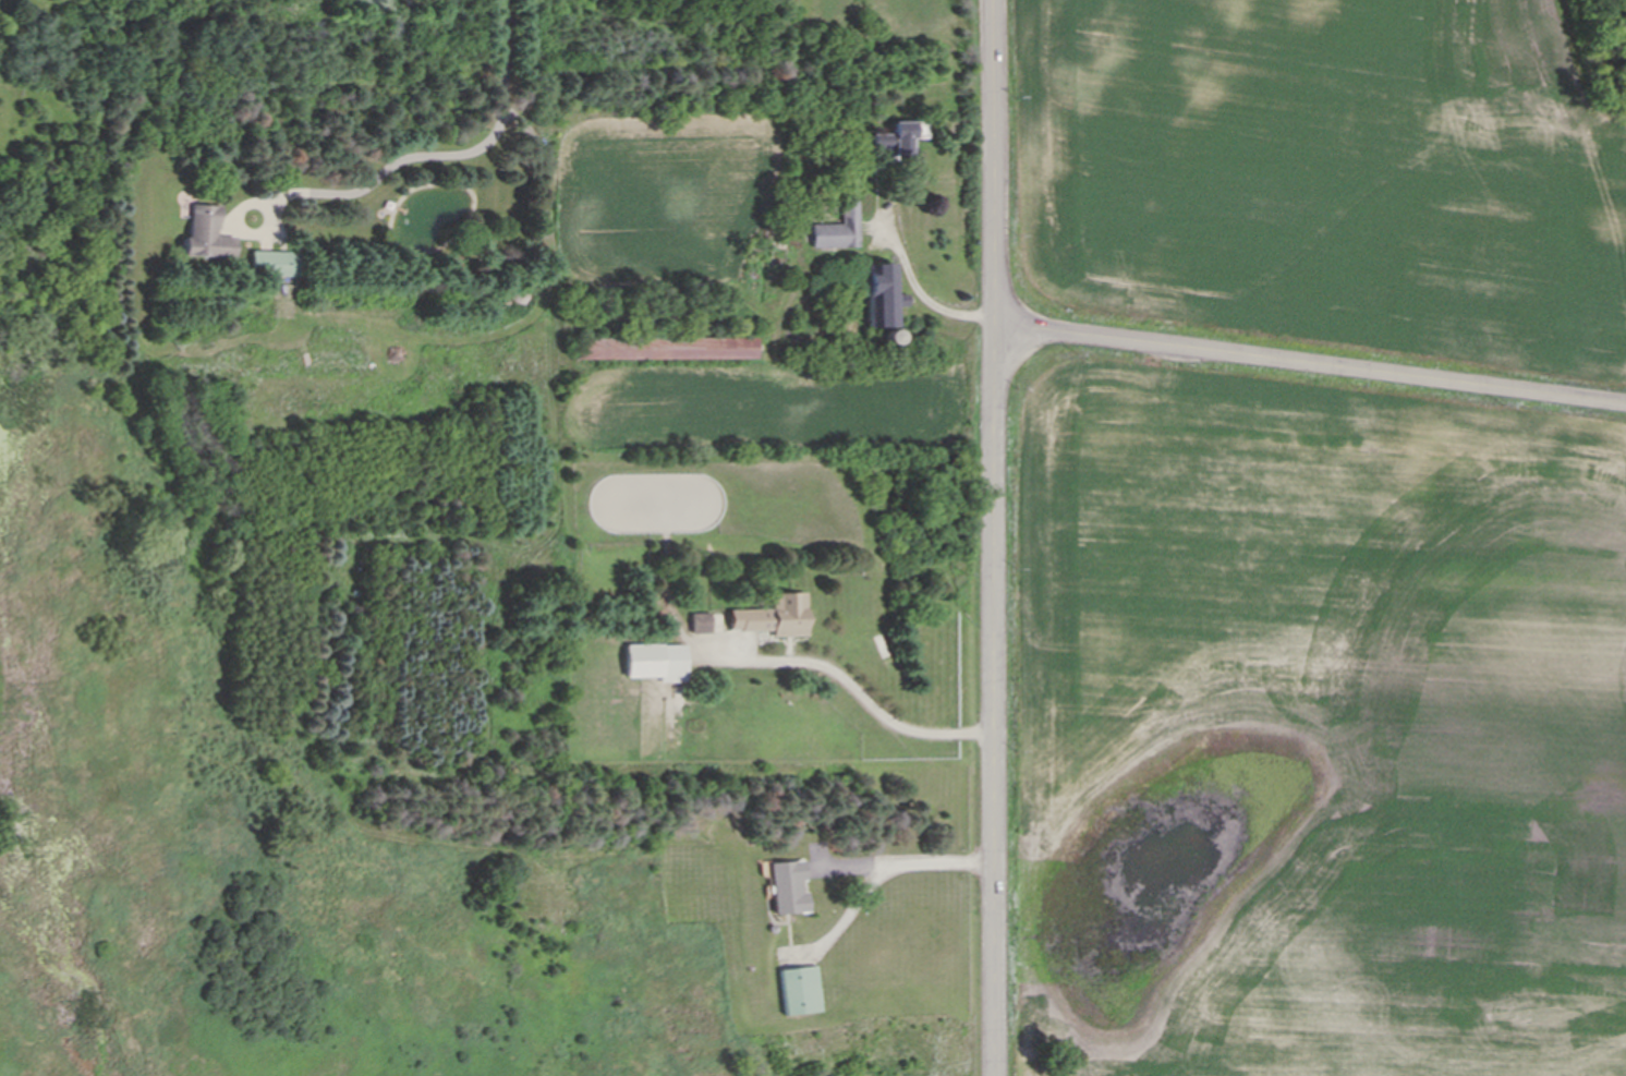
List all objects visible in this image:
building: (898, 140)
road: (435, 155)
building: (840, 227)
building: (207, 234)
building: (275, 264)
building: (881, 295)
road: (927, 301)
building: (595, 349)
road: (1316, 371)
road: (1007, 537)
building: (774, 616)
building: (700, 624)
building: (656, 662)
road: (872, 701)
road: (911, 862)
building: (789, 887)
building: (801, 991)

